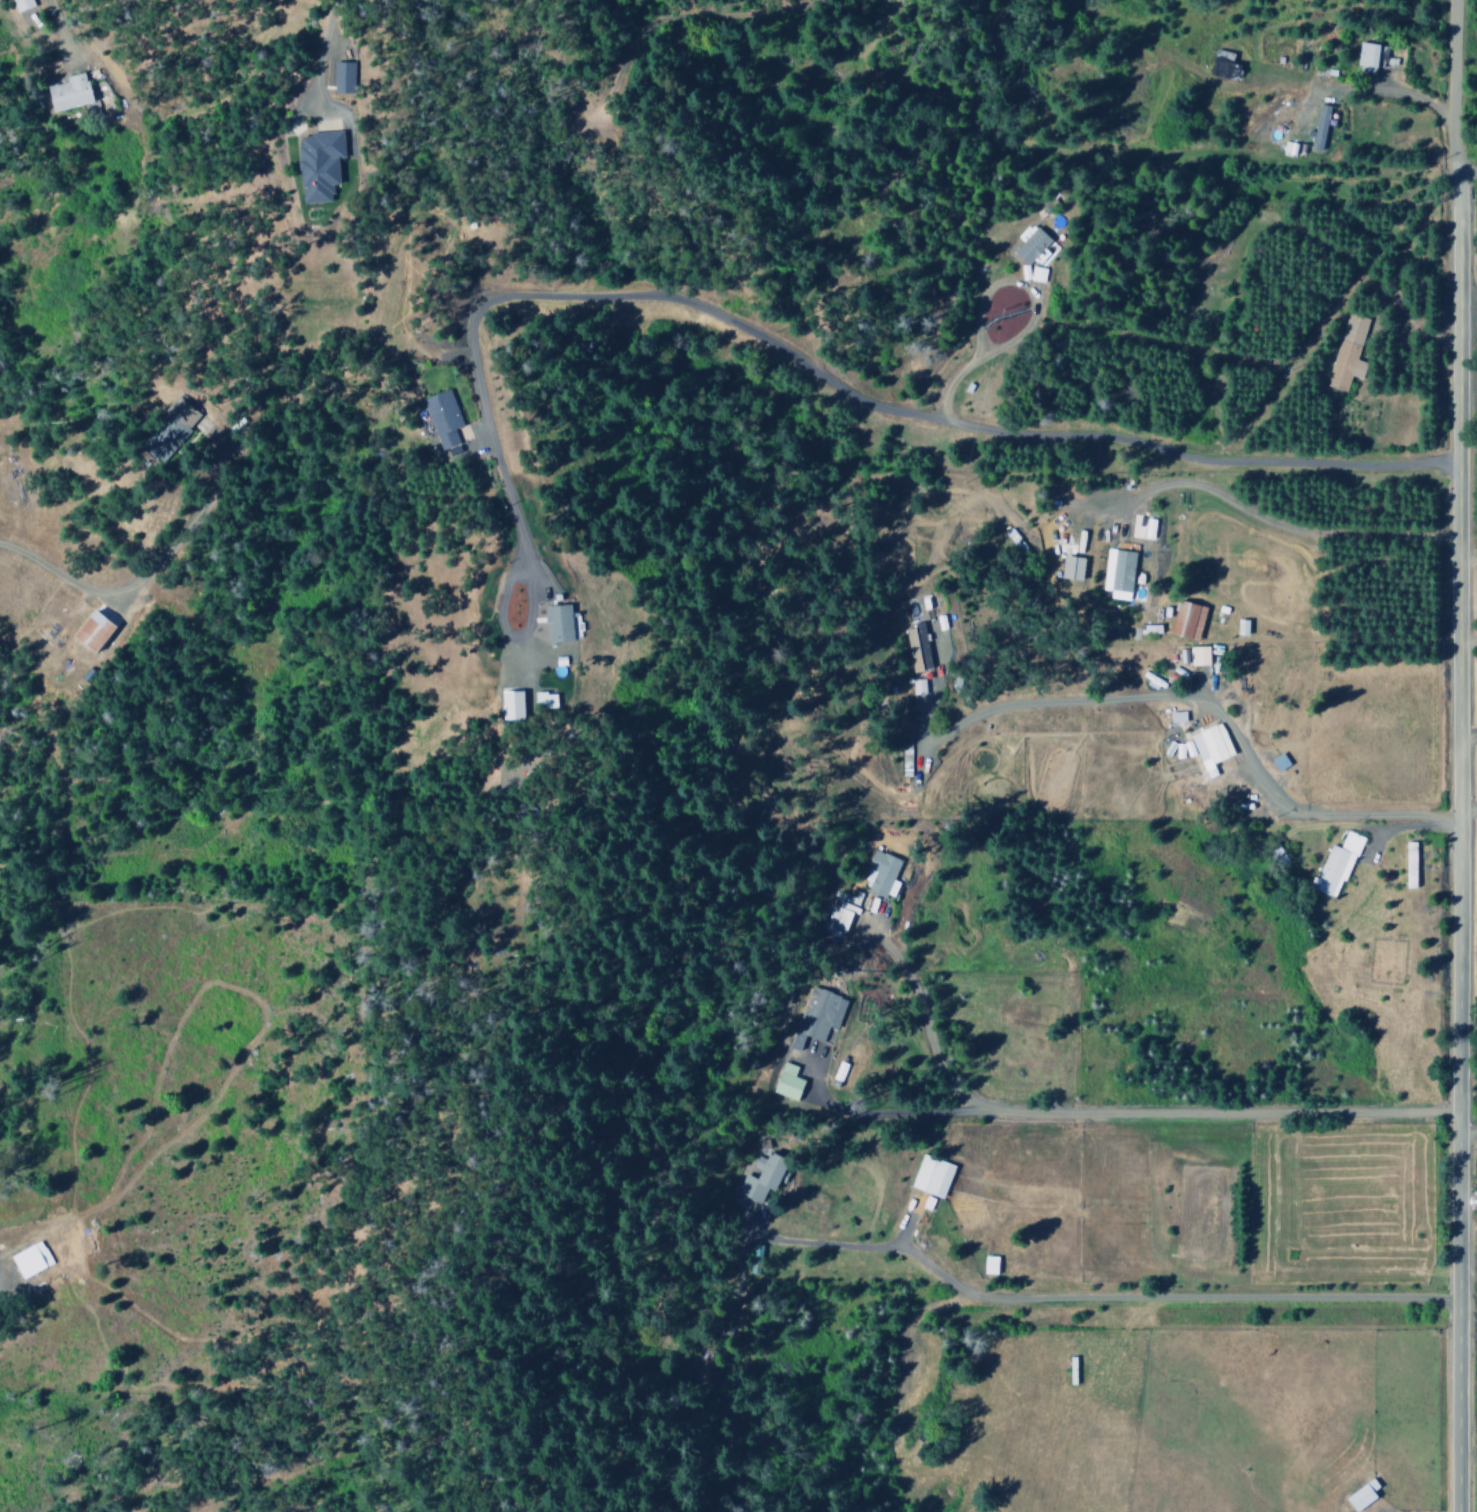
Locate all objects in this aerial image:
building: (22, 4)
building: (1371, 54)
road: (315, 57)
building: (1225, 64)
building: (344, 77)
road: (1450, 85)
building: (72, 92)
building: (1321, 126)
building: (1289, 148)
building: (321, 165)
building: (1031, 243)
building: (1036, 274)
road: (1018, 284)
building: (1347, 353)
road: (947, 382)
road: (835, 389)
building: (184, 412)
building: (445, 418)
building: (1075, 568)
building: (1118, 571)
road: (525, 582)
building: (1189, 620)
building: (559, 624)
building: (97, 631)
building: (917, 648)
building: (1197, 656)
building: (918, 687)
building: (547, 701)
building: (516, 705)
building: (1177, 717)
building: (1212, 748)
building: (1280, 762)
road: (1459, 841)
building: (1337, 866)
building: (881, 872)
building: (818, 1017)
building: (790, 1082)
road: (1101, 1113)
road: (879, 1116)
building: (763, 1176)
building: (932, 1176)
building: (32, 1259)
building: (991, 1264)
road: (1090, 1299)
road: (898, 1354)
building: (1363, 1496)

